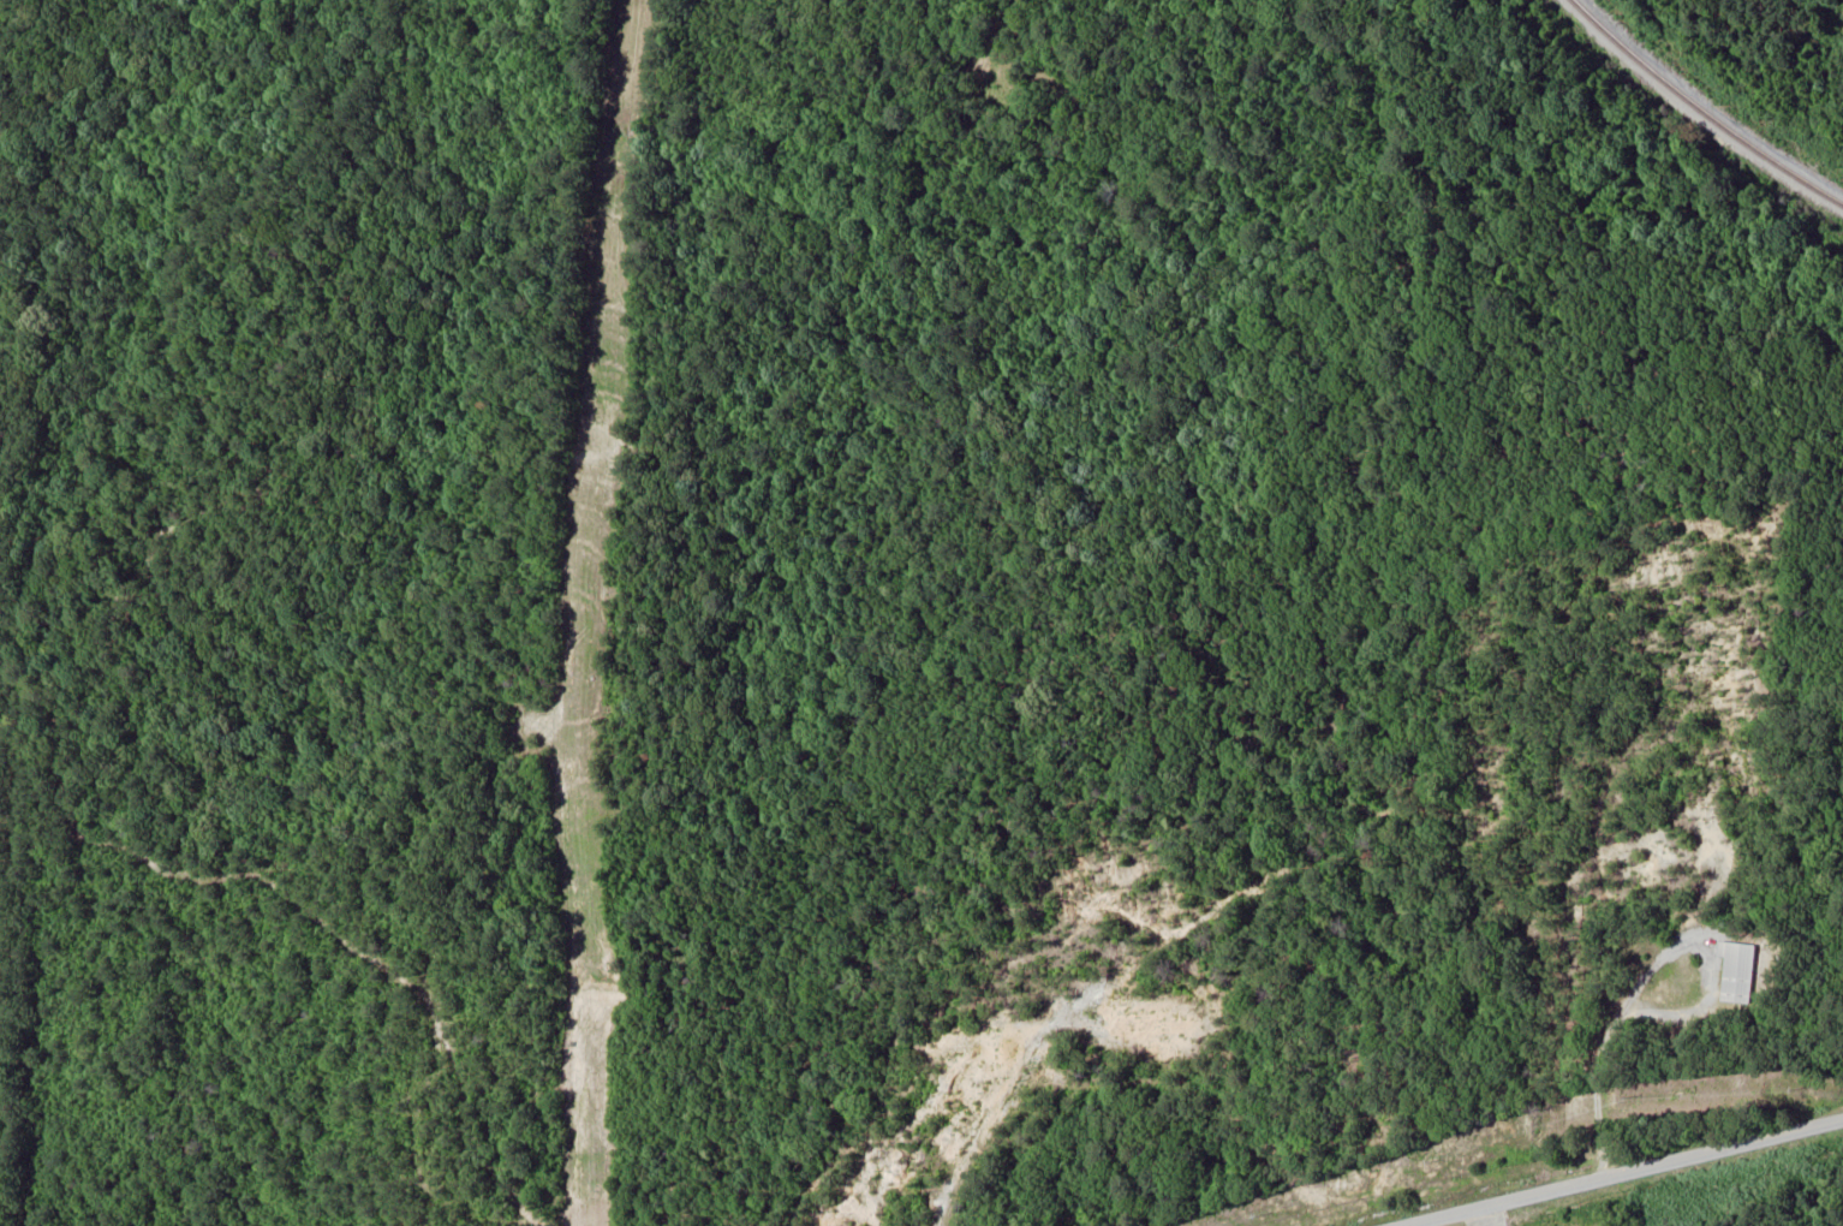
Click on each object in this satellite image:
railway: (1704, 108)
building: (1738, 971)
road: (1622, 1174)

